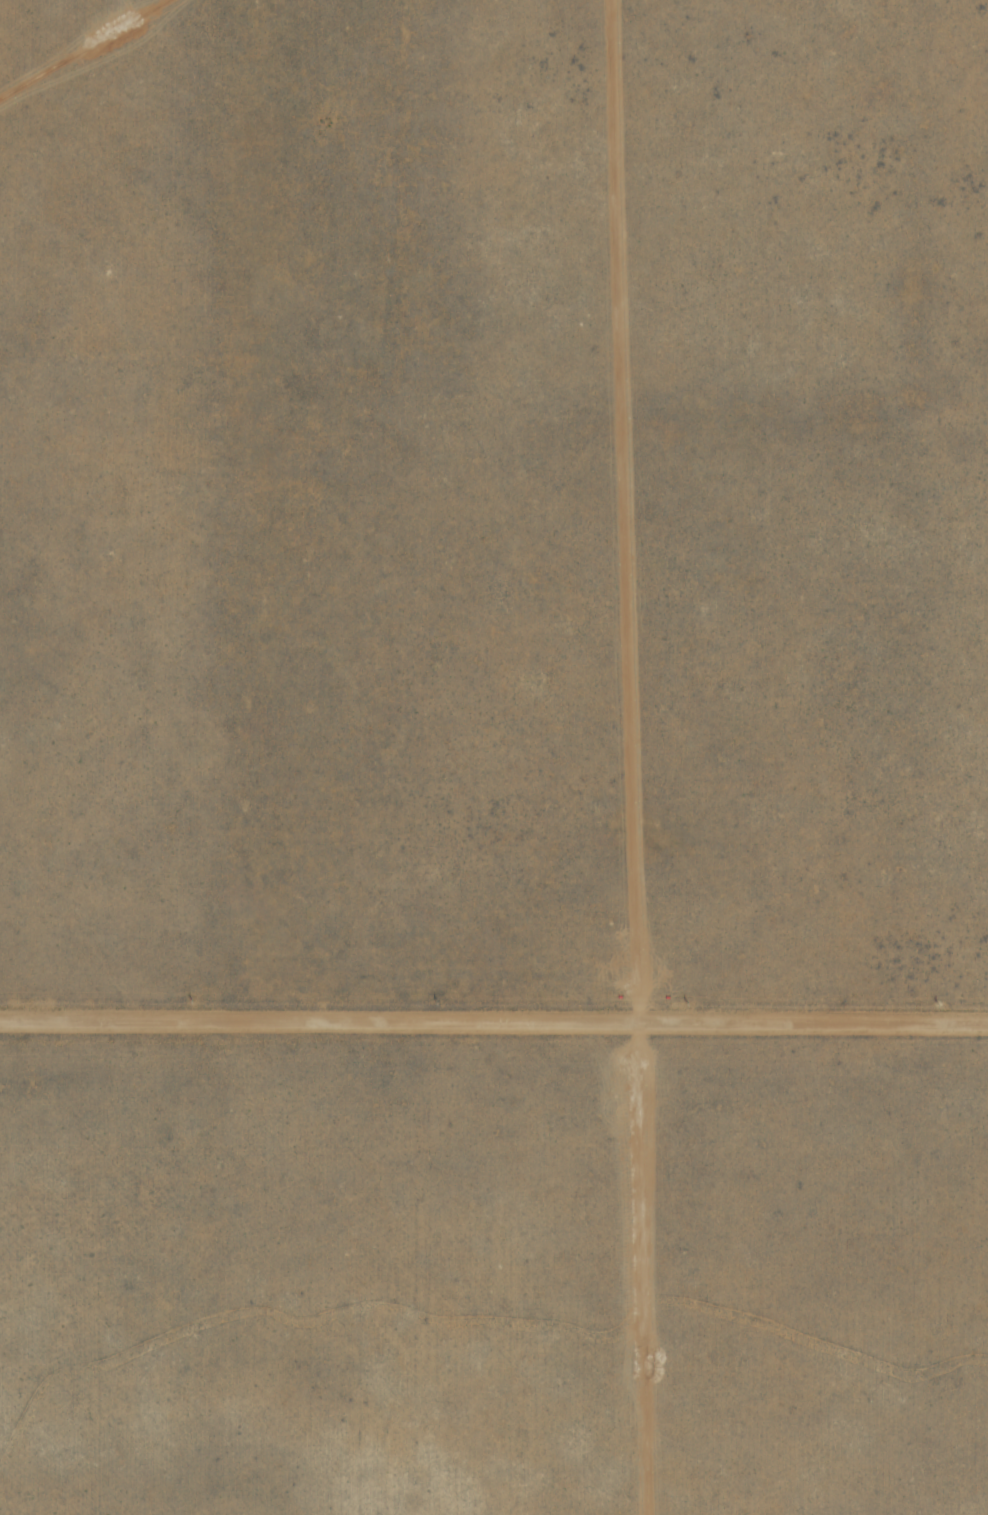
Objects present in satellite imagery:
road: (494, 1028)

